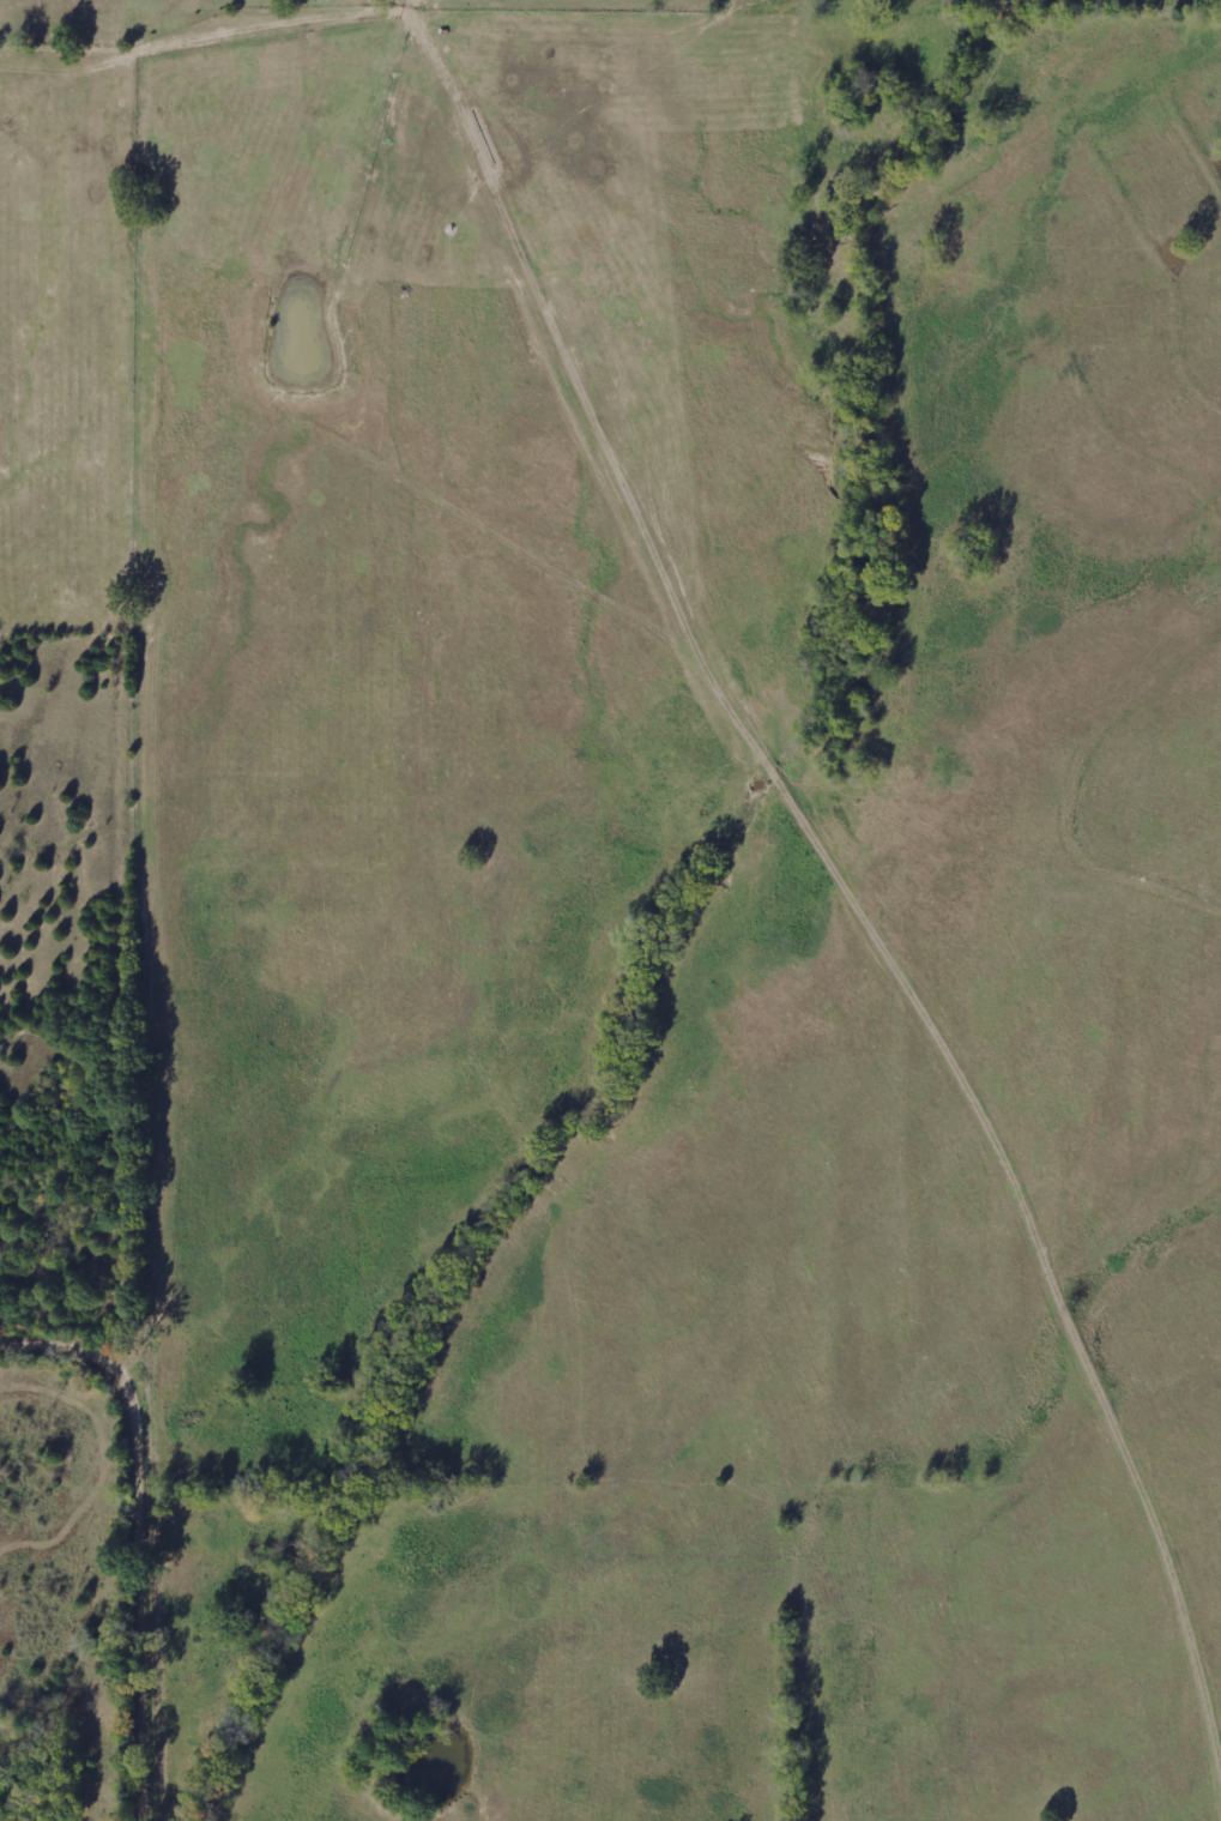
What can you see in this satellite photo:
road: (150, 1530)

